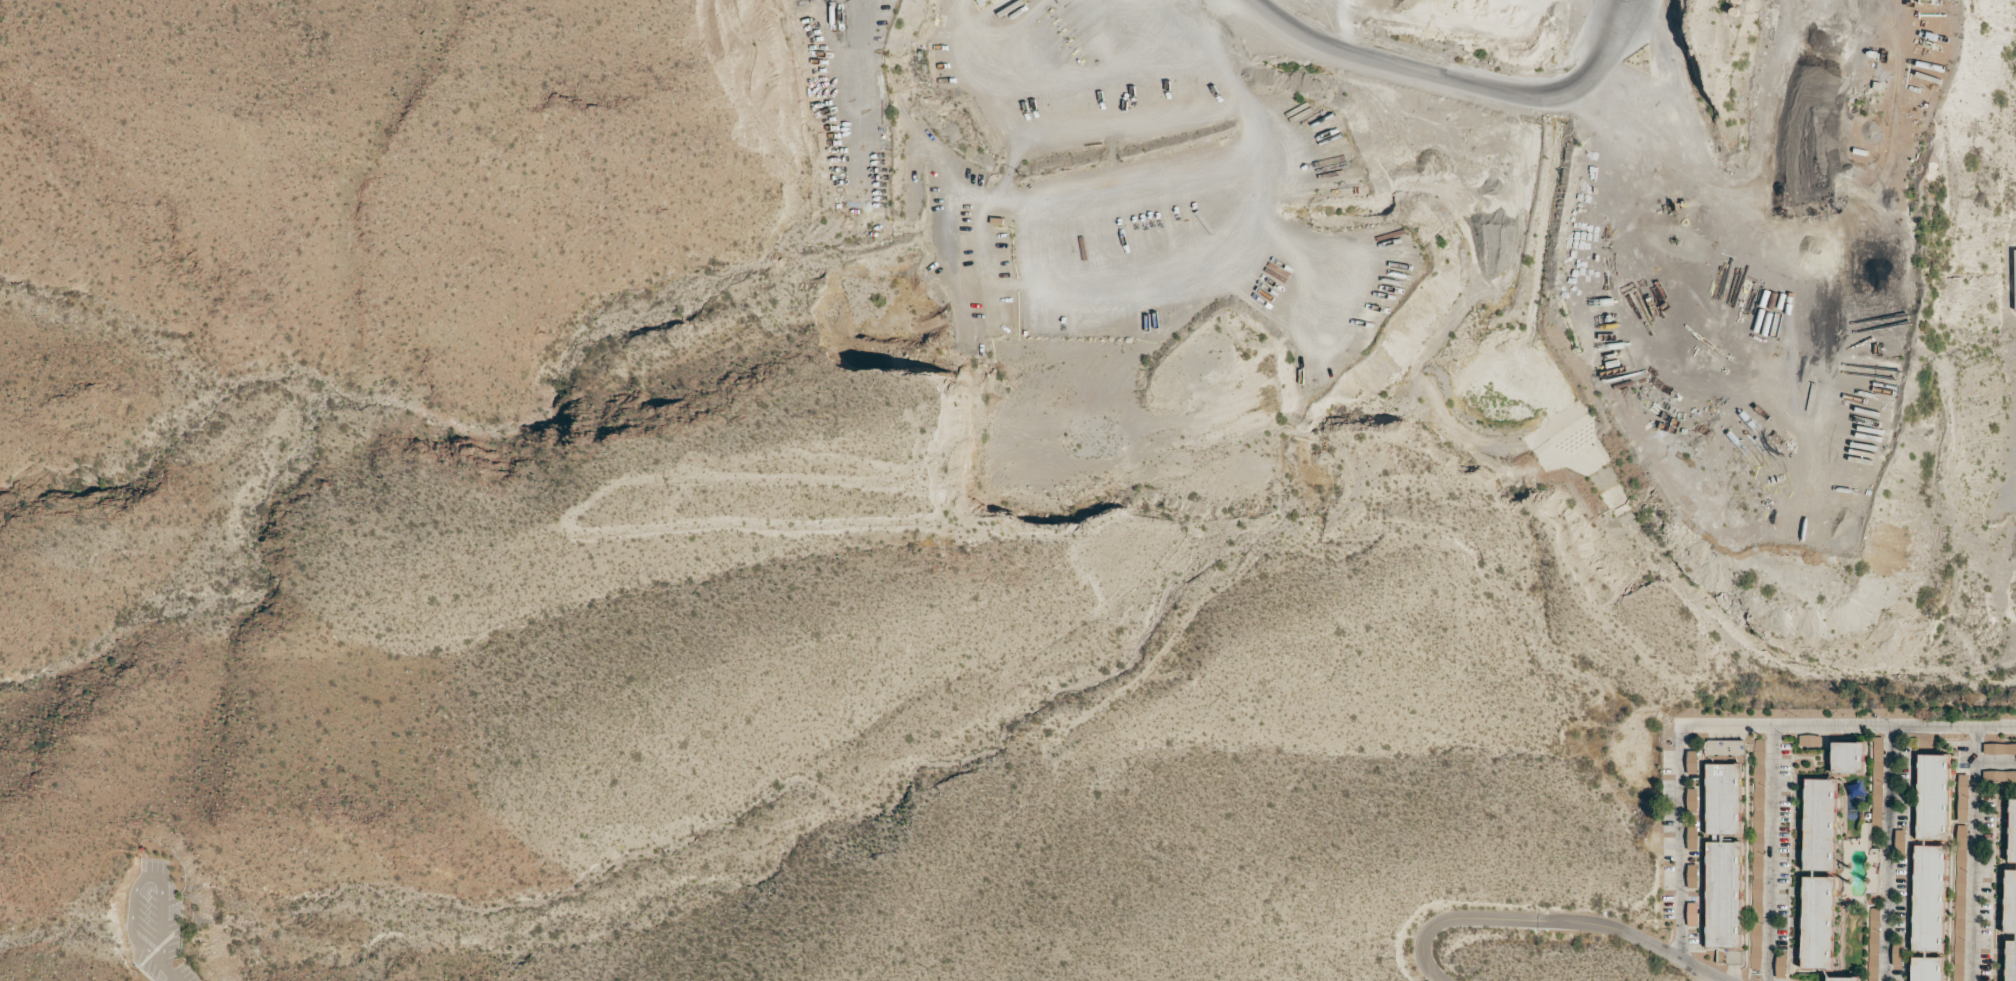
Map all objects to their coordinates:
road: (1456, 77)
quarry: (1475, 275)
building: (2014, 276)
road: (1734, 727)
building: (1809, 740)
building: (1725, 746)
building: (1999, 748)
building: (1848, 756)
building: (1693, 761)
building: (1877, 780)
building: (1933, 796)
building: (1962, 797)
building: (1692, 799)
building: (1819, 824)
building: (2012, 830)
building: (1692, 837)
building: (1899, 840)
building: (1961, 845)
building: (150, 850)
road: (1772, 854)
road: (1888, 854)
road: (1973, 854)
building: (1723, 855)
building: (1692, 875)
road: (146, 882)
building: (1756, 882)
building: (1928, 897)
building: (2009, 901)
road: (65, 902)
building: (1692, 913)
road: (1447, 918)
building: (1818, 921)
parking lot: (158, 925)
building: (1873, 934)
road: (1634, 935)
building: (1896, 953)
building: (2010, 960)
building: (1755, 963)
building: (1780, 965)
building: (1927, 968)
road: (173, 976)
building: (1843, 978)

